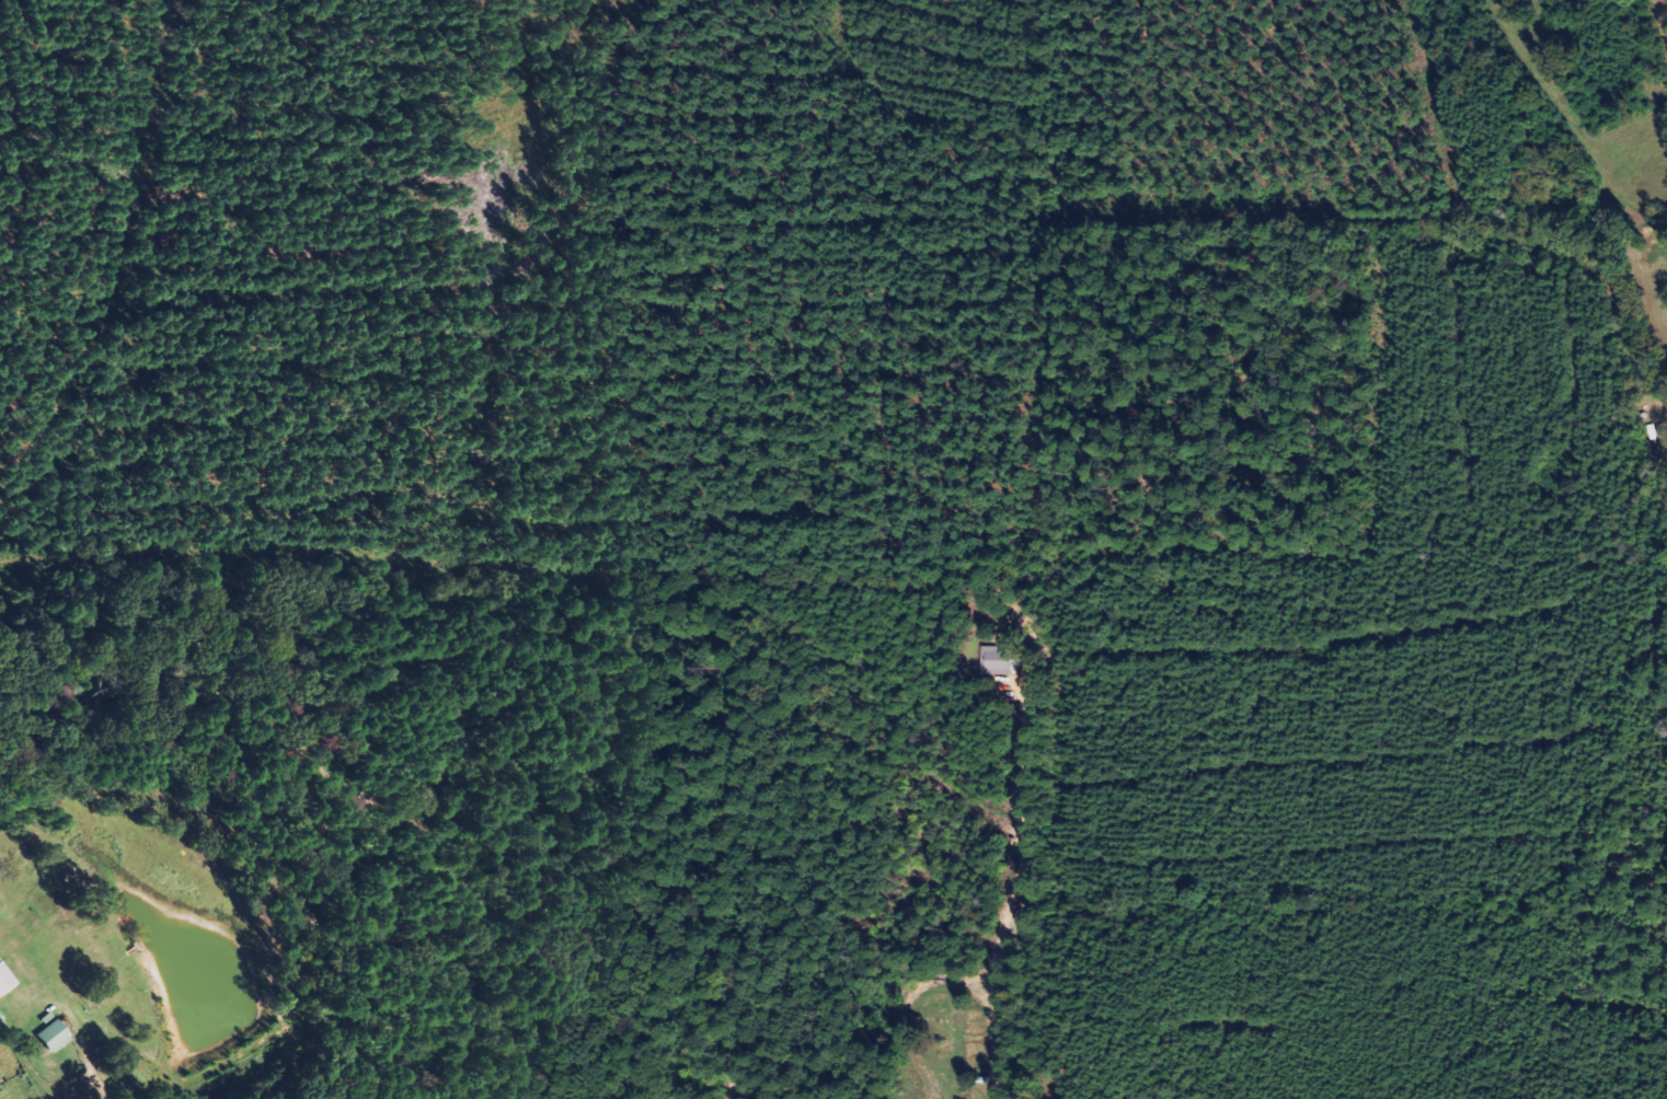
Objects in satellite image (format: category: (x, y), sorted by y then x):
road: (1657, 28)
building: (7, 979)
building: (57, 1037)

